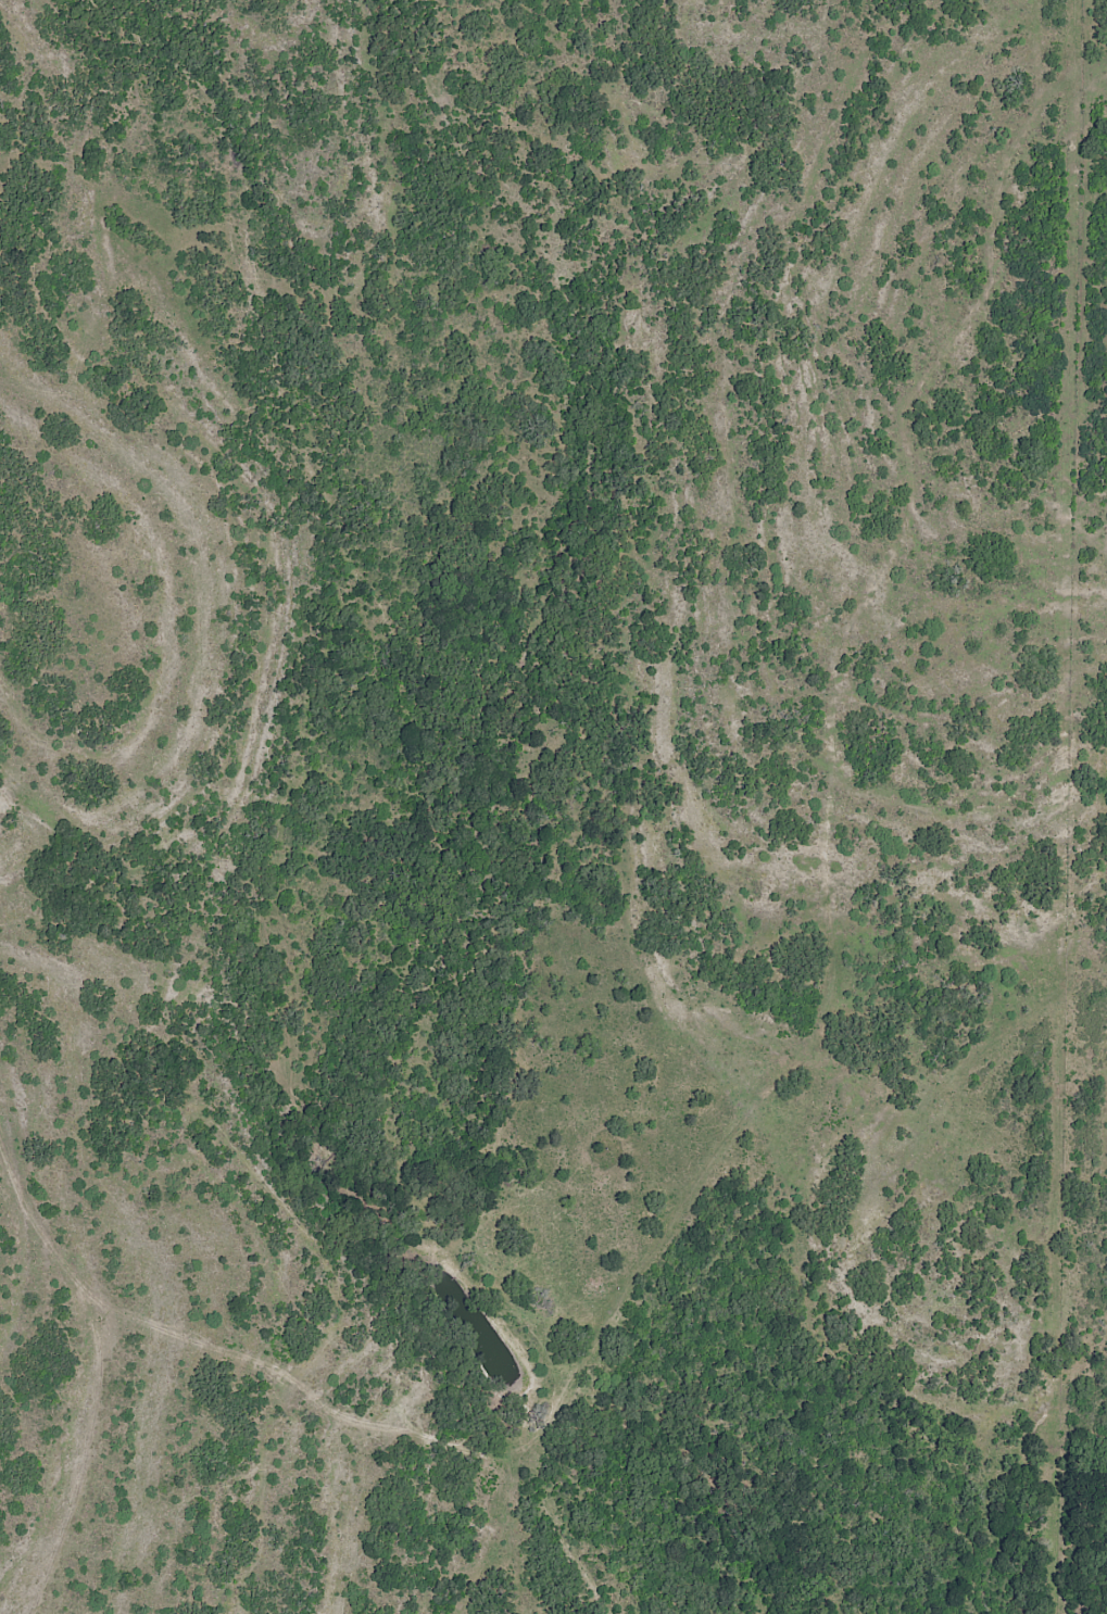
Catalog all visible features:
road: (846, 832)
road: (79, 1386)
road: (316, 1398)

